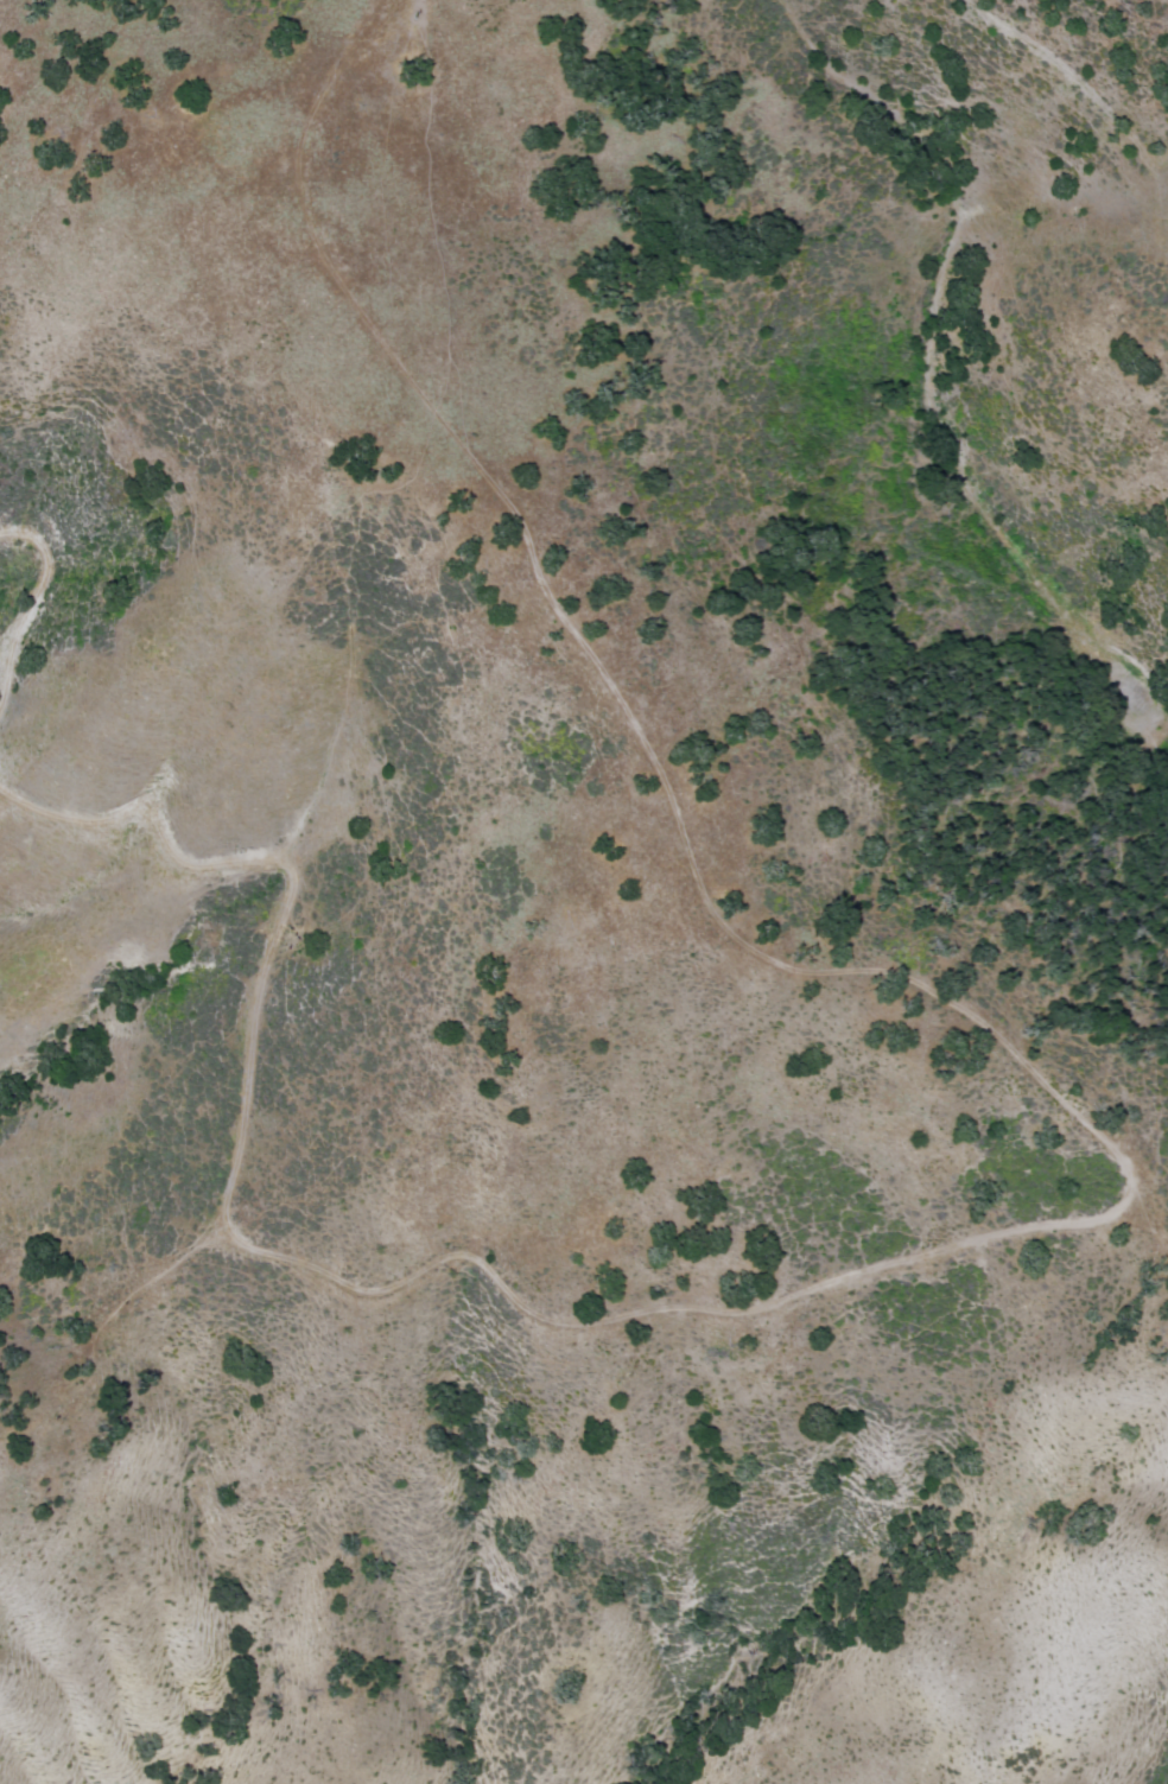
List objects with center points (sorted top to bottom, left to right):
road: (38, 589)
road: (1090, 1224)

